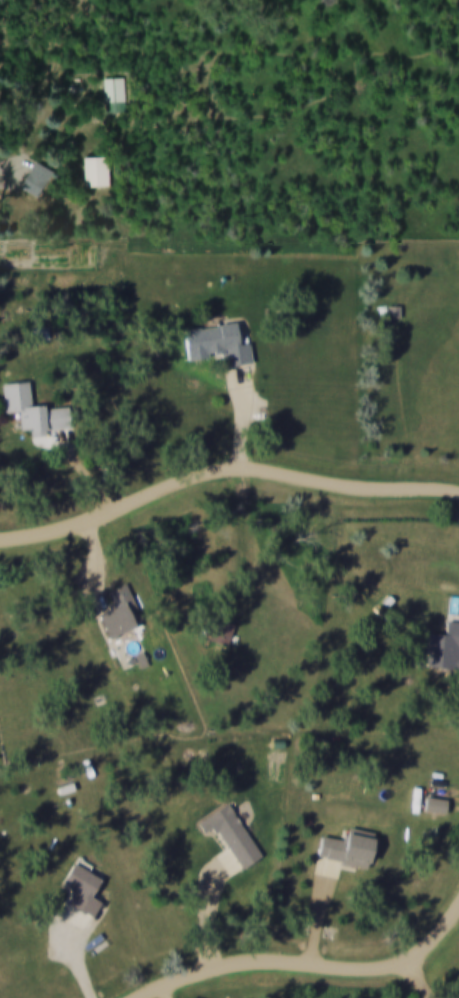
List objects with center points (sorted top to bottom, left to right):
building: (32, 183)
building: (219, 345)
building: (28, 412)
road: (224, 471)
building: (115, 613)
building: (217, 633)
building: (440, 646)
building: (226, 836)
building: (340, 851)
building: (76, 890)
road: (310, 966)

